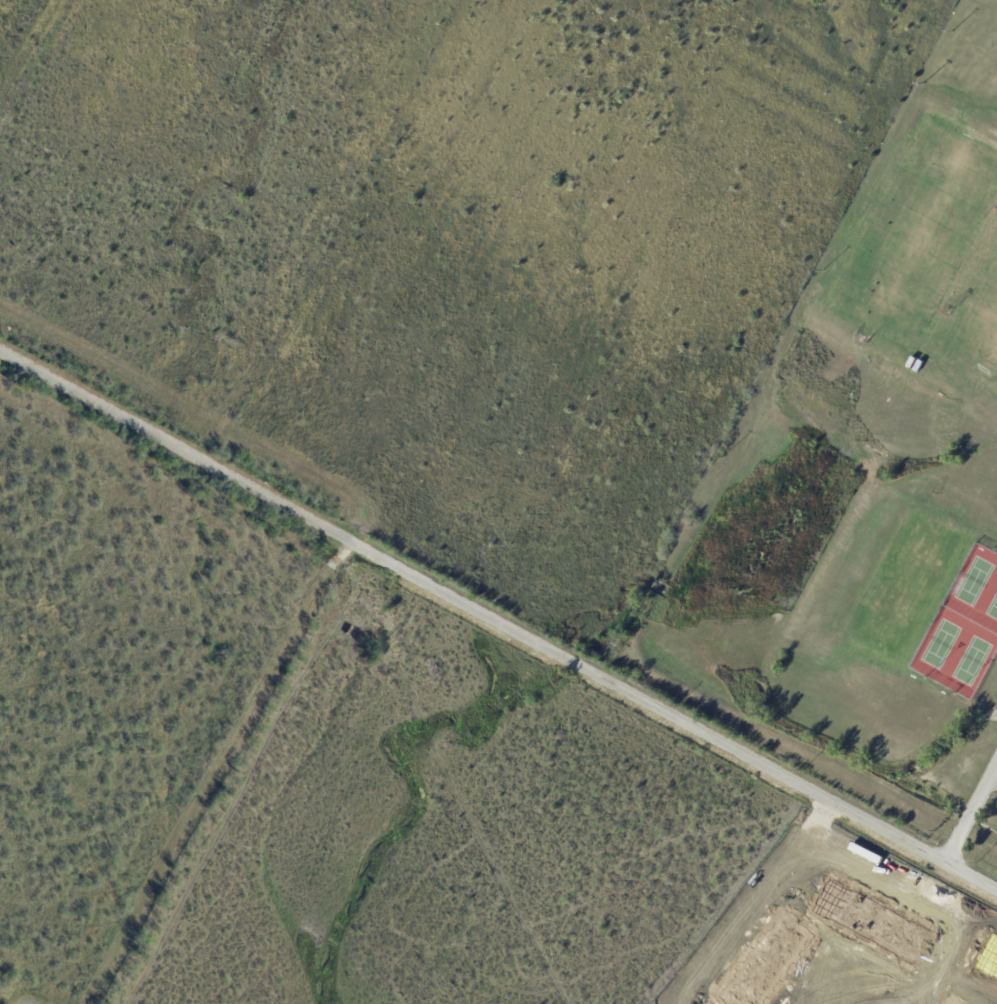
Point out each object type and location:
building: (912, 362)
building: (920, 366)
road: (498, 618)
park: (962, 626)
road: (971, 810)

